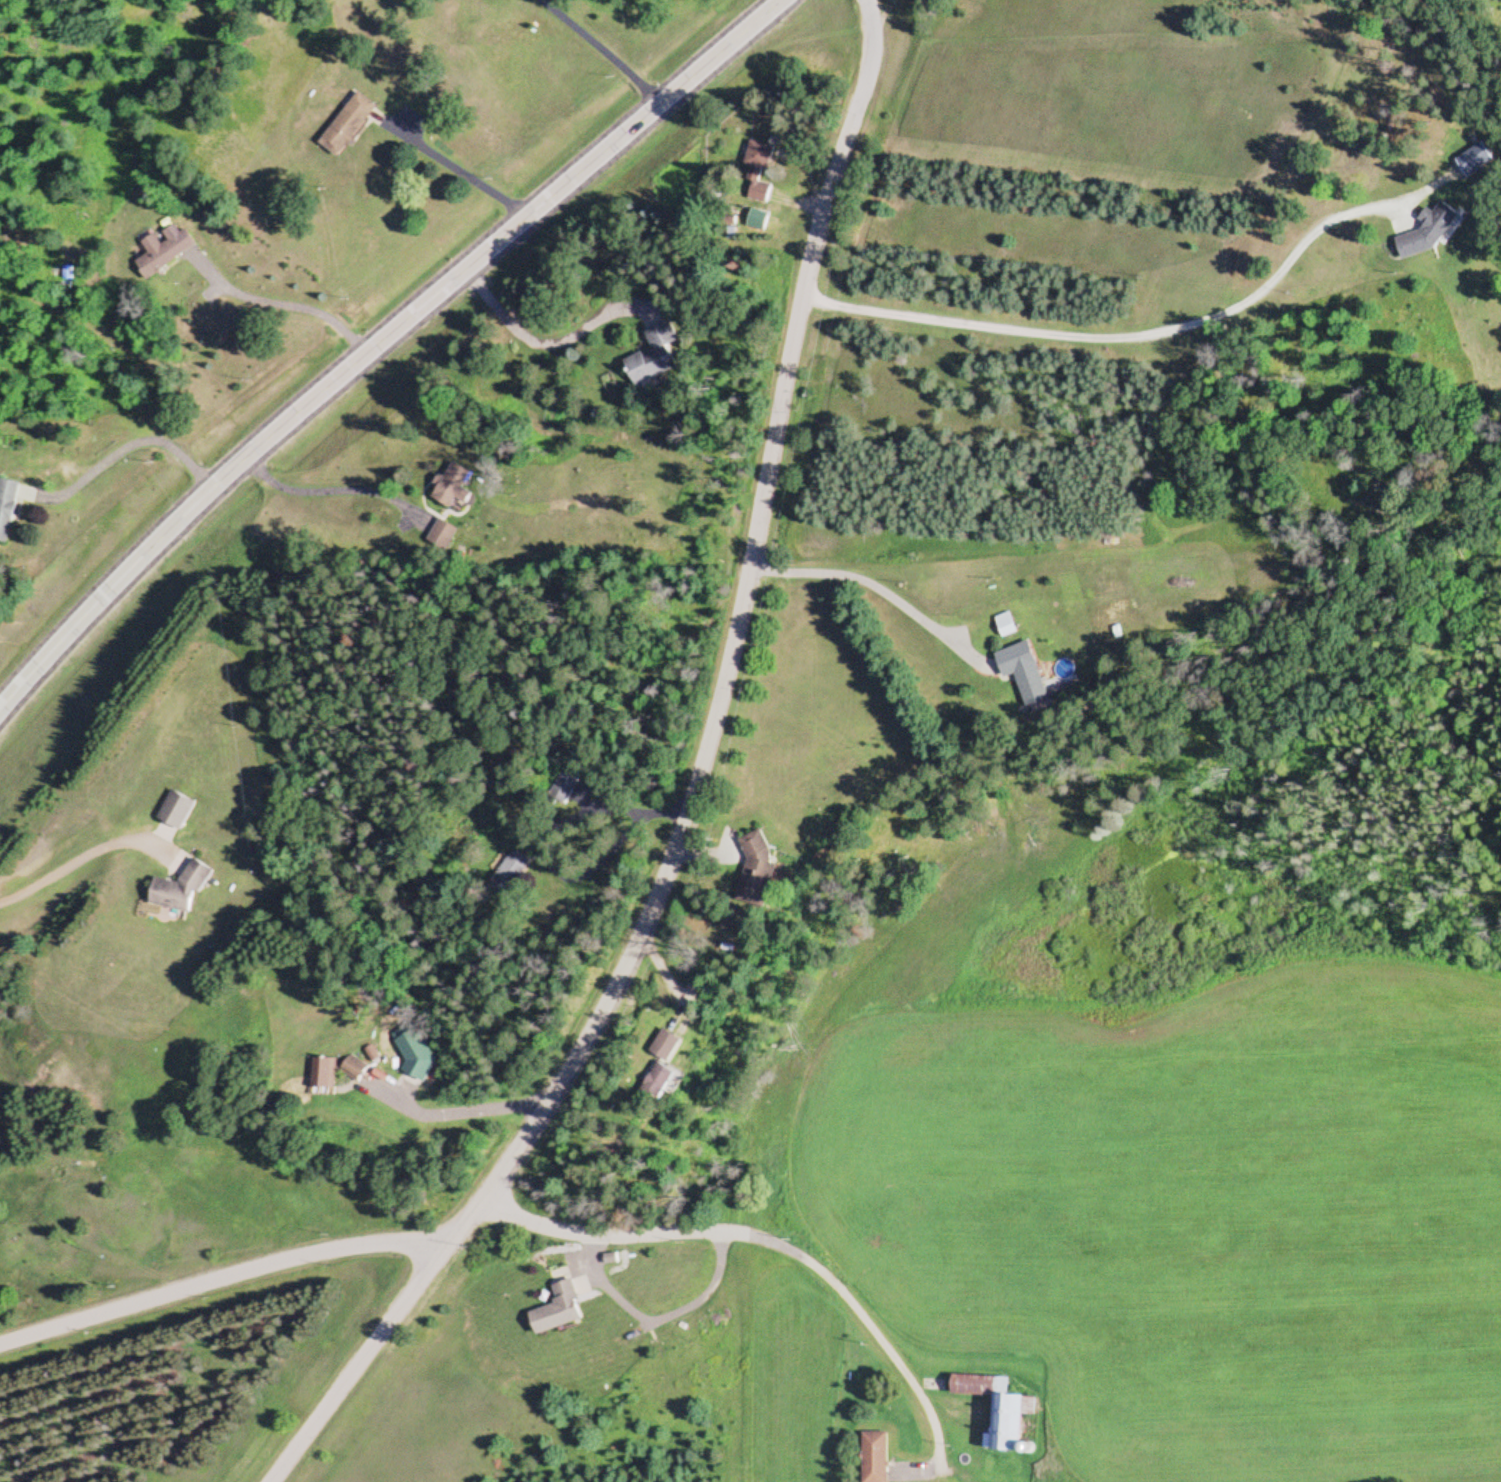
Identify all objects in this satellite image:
building: (346, 126)
building: (1476, 160)
building: (758, 172)
building: (1431, 232)
building: (163, 249)
road: (379, 342)
building: (655, 358)
building: (454, 488)
building: (6, 506)
building: (445, 535)
building: (1008, 628)
building: (1027, 673)
building: (562, 788)
road: (697, 792)
building: (179, 810)
building: (511, 874)
building: (758, 875)
building: (183, 890)
building: (669, 1045)
building: (425, 1067)
building: (356, 1070)
building: (327, 1076)
building: (662, 1081)
road: (770, 1243)
road: (219, 1281)
building: (559, 1309)
building: (998, 1408)
building: (874, 1457)

